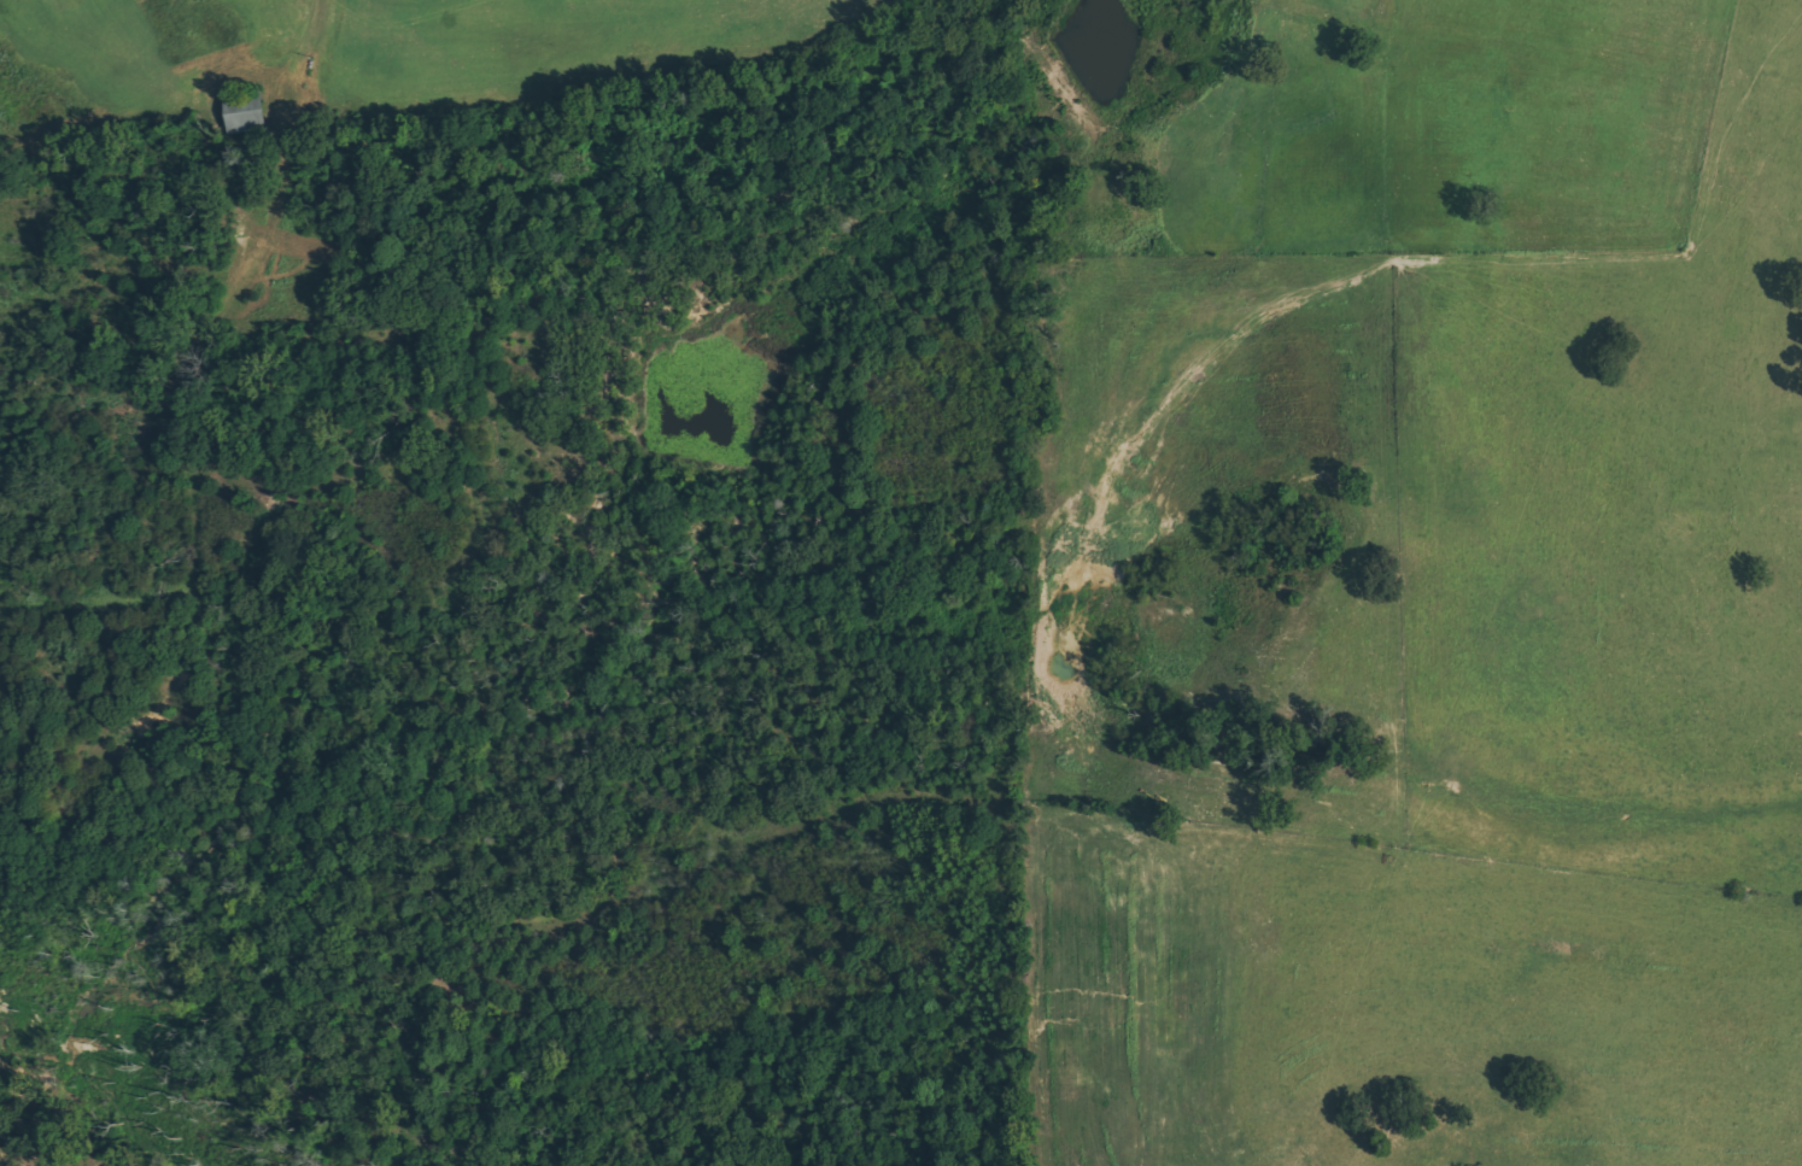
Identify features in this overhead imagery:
building: (241, 113)

